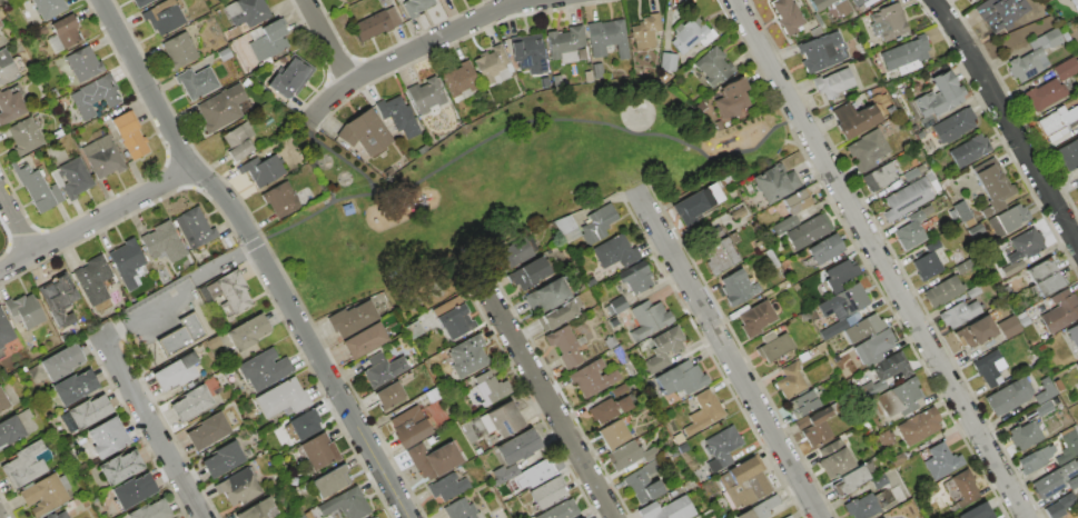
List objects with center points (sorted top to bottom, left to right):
building: (439, 0)
building: (973, 1)
building: (141, 2)
building: (858, 2)
building: (1074, 4)
building: (48, 7)
building: (415, 7)
building: (1001, 9)
building: (842, 10)
building: (247, 12)
building: (162, 16)
building: (788, 16)
building: (888, 22)
building: (376, 23)
building: (0, 24)
building: (42, 31)
building: (645, 31)
building: (63, 33)
building: (692, 33)
building: (606, 38)
building: (665, 39)
building: (268, 40)
building: (564, 40)
road: (325, 41)
road: (415, 48)
building: (179, 50)
building: (819, 51)
building: (904, 52)
building: (224, 54)
building: (528, 54)
building: (1032, 56)
building: (1077, 60)
building: (667, 61)
building: (489, 63)
building: (80, 64)
building: (713, 67)
building: (6, 68)
building: (1065, 68)
building: (289, 77)
building: (459, 80)
building: (196, 82)
building: (833, 82)
building: (425, 94)
building: (1044, 94)
building: (95, 96)
building: (939, 96)
building: (732, 99)
building: (10, 106)
building: (220, 108)
building: (398, 116)
building: (854, 117)
road: (538, 120)
building: (1057, 120)
road: (1006, 122)
building: (952, 126)
building: (129, 133)
building: (365, 133)
building: (24, 136)
building: (238, 140)
building: (867, 150)
building: (969, 150)
building: (1068, 155)
building: (102, 157)
building: (261, 169)
building: (879, 177)
building: (73, 178)
park: (504, 182)
building: (774, 182)
building: (32, 185)
building: (991, 185)
building: (1077, 186)
road: (330, 198)
building: (907, 198)
building: (281, 199)
building: (798, 201)
building: (695, 202)
building: (347, 209)
road: (96, 220)
building: (1008, 220)
road: (16, 223)
road: (291, 223)
building: (596, 223)
building: (783, 225)
building: (192, 228)
building: (565, 228)
building: (809, 231)
building: (910, 231)
building: (158, 238)
building: (1026, 245)
building: (715, 249)
building: (825, 249)
building: (615, 252)
road: (258, 253)
building: (512, 253)
building: (771, 258)
road: (878, 258)
building: (927, 261)
building: (127, 262)
building: (962, 266)
building: (527, 273)
building: (839, 275)
building: (635, 277)
building: (1045, 278)
building: (92, 279)
road: (172, 285)
building: (733, 289)
building: (212, 290)
building: (233, 291)
building: (942, 291)
building: (973, 291)
building: (548, 293)
building: (205, 295)
building: (57, 297)
building: (840, 303)
building: (617, 305)
building: (23, 310)
building: (1060, 311)
building: (557, 313)
building: (958, 313)
building: (453, 318)
building: (649, 318)
building: (754, 318)
building: (353, 319)
building: (862, 328)
building: (832, 329)
building: (1009, 329)
building: (4, 330)
building: (247, 331)
building: (975, 332)
building: (181, 335)
building: (1072, 335)
building: (364, 340)
building: (772, 346)
building: (564, 347)
building: (873, 347)
building: (662, 350)
road: (726, 353)
building: (619, 355)
building: (467, 356)
building: (61, 361)
building: (1077, 361)
building: (1077, 365)
building: (891, 367)
building: (987, 368)
building: (264, 369)
building: (383, 370)
building: (176, 372)
building: (591, 378)
building: (681, 378)
building: (790, 381)
building: (73, 387)
building: (489, 387)
building: (1045, 391)
road: (541, 392)
building: (389, 396)
building: (1008, 396)
building: (283, 398)
building: (899, 398)
building: (2, 401)
building: (190, 404)
building: (801, 404)
building: (607, 409)
building: (85, 412)
building: (703, 412)
building: (503, 419)
road: (147, 424)
building: (305, 425)
building: (408, 426)
building: (918, 426)
building: (814, 427)
building: (9, 429)
building: (207, 431)
building: (613, 434)
building: (1025, 435)
building: (106, 438)
building: (886, 439)
building: (520, 445)
building: (1069, 447)
building: (721, 448)
building: (318, 450)
building: (630, 455)
building: (432, 459)
building: (897, 459)
building: (1035, 459)
building: (222, 460)
building: (941, 461)
building: (26, 464)
building: (835, 464)
building: (119, 467)
building: (535, 474)
building: (1055, 479)
building: (849, 480)
building: (330, 481)
building: (879, 481)
building: (743, 482)
building: (643, 484)
building: (238, 487)
building: (447, 487)
building: (962, 487)
building: (132, 490)
building: (897, 491)
building: (547, 492)
building: (44, 494)
building: (346, 505)
building: (1060, 506)
building: (861, 507)
building: (760, 508)
building: (260, 509)
building: (461, 509)
building: (669, 509)
building: (150, 510)
building: (561, 510)
building: (977, 512)
building: (57, 516)
building: (373, 517)
building: (788, 517)

